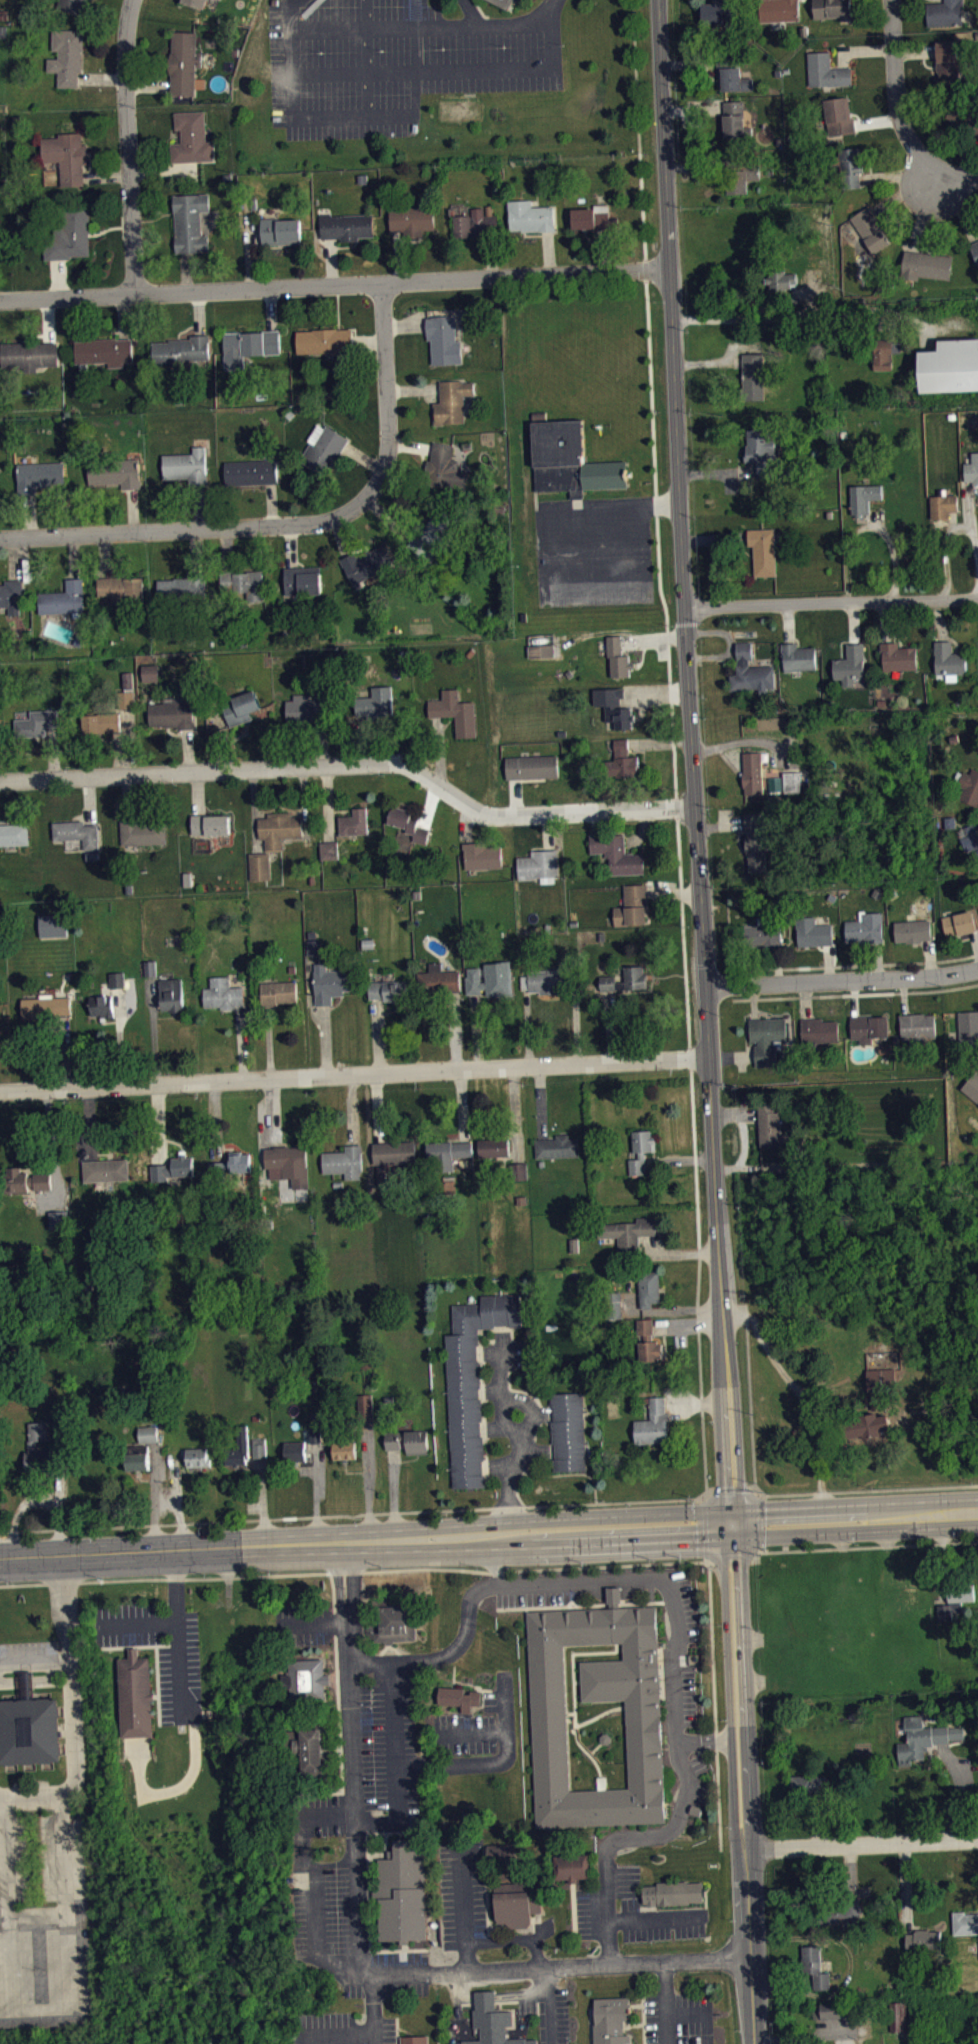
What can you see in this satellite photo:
building: (300, 0)
building: (195, 2)
building: (503, 3)
building: (72, 5)
building: (831, 8)
road: (552, 10)
building: (779, 10)
building: (724, 11)
building: (944, 13)
road: (501, 23)
building: (66, 56)
parking lot: (396, 60)
building: (949, 62)
building: (183, 63)
road: (365, 71)
road: (371, 71)
building: (825, 71)
building: (732, 75)
road: (899, 95)
road: (398, 116)
building: (839, 116)
building: (965, 117)
building: (735, 119)
road: (639, 127)
building: (191, 138)
road: (128, 145)
building: (66, 157)
building: (850, 166)
building: (740, 174)
road: (956, 181)
building: (530, 216)
building: (593, 217)
building: (412, 220)
building: (189, 222)
building: (476, 223)
building: (346, 226)
building: (870, 229)
building: (280, 231)
building: (68, 234)
building: (974, 249)
building: (926, 264)
building: (780, 279)
road: (334, 284)
building: (443, 339)
building: (324, 340)
building: (248, 345)
building: (181, 349)
building: (105, 351)
building: (29, 355)
building: (886, 360)
building: (950, 367)
building: (753, 375)
road: (385, 390)
building: (451, 401)
building: (323, 447)
building: (760, 450)
building: (569, 459)
road: (655, 462)
building: (186, 466)
building: (444, 468)
building: (972, 468)
building: (115, 472)
building: (250, 472)
building: (39, 476)
building: (0, 489)
building: (863, 497)
road: (660, 503)
building: (943, 505)
road: (972, 518)
road: (189, 529)
building: (432, 531)
road: (593, 547)
parking lot: (594, 550)
building: (762, 550)
road: (946, 555)
building: (364, 563)
road: (646, 579)
building: (303, 580)
building: (245, 583)
building: (182, 587)
building: (122, 589)
building: (11, 595)
building: (63, 599)
road: (831, 600)
building: (798, 656)
building: (898, 656)
building: (617, 657)
building: (949, 660)
building: (850, 664)
building: (750, 670)
building: (150, 672)
building: (126, 692)
building: (376, 703)
building: (614, 706)
building: (240, 708)
building: (306, 709)
building: (455, 711)
building: (172, 713)
building: (36, 722)
building: (100, 723)
building: (0, 729)
road: (672, 729)
building: (622, 760)
road: (354, 762)
road: (692, 762)
building: (532, 765)
building: (753, 771)
building: (792, 781)
building: (774, 783)
building: (968, 785)
building: (354, 822)
building: (408, 822)
building: (209, 823)
building: (76, 832)
building: (141, 832)
building: (13, 834)
building: (971, 837)
building: (272, 840)
building: (328, 849)
building: (756, 852)
building: (616, 853)
building: (481, 855)
building: (538, 865)
building: (632, 905)
building: (960, 923)
building: (52, 924)
building: (865, 927)
building: (912, 929)
building: (813, 931)
road: (681, 932)
building: (763, 933)
road: (854, 965)
building: (149, 968)
building: (117, 979)
building: (437, 979)
building: (625, 979)
building: (545, 980)
road: (841, 980)
building: (492, 981)
building: (332, 984)
road: (731, 984)
building: (609, 989)
building: (388, 990)
building: (277, 992)
building: (222, 993)
building: (171, 994)
road: (855, 994)
building: (101, 1005)
building: (45, 1007)
building: (968, 1025)
building: (869, 1027)
building: (917, 1027)
building: (820, 1031)
building: (767, 1039)
road: (688, 1058)
road: (353, 1074)
building: (971, 1086)
building: (976, 1106)
building: (770, 1126)
building: (556, 1146)
building: (493, 1147)
building: (640, 1150)
building: (394, 1152)
building: (446, 1153)
building: (344, 1161)
building: (232, 1163)
building: (182, 1164)
building: (288, 1164)
building: (105, 1170)
building: (517, 1171)
building: (232, 1173)
building: (520, 1178)
building: (25, 1179)
building: (59, 1219)
building: (628, 1232)
road: (698, 1249)
building: (648, 1287)
building: (648, 1341)
building: (472, 1378)
building: (882, 1379)
road: (750, 1396)
building: (365, 1405)
building: (314, 1416)
building: (653, 1423)
road: (508, 1425)
road: (529, 1425)
building: (869, 1425)
building: (568, 1431)
building: (148, 1433)
building: (314, 1433)
building: (405, 1438)
building: (150, 1441)
building: (317, 1442)
building: (238, 1447)
building: (259, 1447)
building: (344, 1449)
building: (38, 1451)
building: (294, 1451)
building: (138, 1457)
building: (197, 1457)
road: (862, 1490)
road: (730, 1491)
road: (754, 1491)
road: (709, 1493)
road: (384, 1513)
road: (854, 1518)
road: (758, 1521)
traffic signals: (730, 1524)
road: (703, 1529)
road: (365, 1542)
road: (863, 1546)
road: (760, 1549)
road: (731, 1555)
road: (356, 1571)
road: (664, 1579)
parking lot: (539, 1589)
building: (956, 1598)
road: (64, 1609)
building: (392, 1619)
road: (136, 1623)
parking lot: (304, 1624)
road: (178, 1636)
parking lot: (682, 1648)
parking lot: (160, 1651)
road: (439, 1655)
road: (573, 1663)
road: (34, 1664)
building: (310, 1681)
road: (578, 1681)
building: (135, 1695)
building: (459, 1697)
road: (507, 1705)
road: (713, 1705)
road: (570, 1713)
building: (30, 1726)
road: (466, 1734)
road: (576, 1734)
road: (74, 1735)
building: (605, 1738)
building: (923, 1738)
parking lot: (408, 1742)
road: (595, 1747)
building: (309, 1750)
building: (550, 1750)
road: (394, 1761)
road: (468, 1766)
road: (745, 1783)
building: (809, 1786)
road: (0, 1793)
road: (30, 1795)
building: (694, 1809)
road: (660, 1836)
road: (864, 1844)
building: (503, 1853)
building: (571, 1866)
parking lot: (319, 1882)
building: (401, 1888)
parking lot: (462, 1892)
building: (672, 1892)
building: (517, 1903)
road: (464, 1905)
building: (831, 1908)
road: (34, 1915)
parking lot: (46, 1917)
parking lot: (661, 1921)
road: (657, 1922)
building: (964, 1922)
building: (922, 1938)
building: (925, 1947)
road: (360, 1949)
building: (815, 1966)
parking lot: (387, 1974)
road: (666, 2002)
road: (375, 2005)
building: (832, 2010)
road: (689, 2012)
parking lot: (679, 2018)
building: (612, 2020)
building: (493, 2022)
building: (900, 2023)
parking lot: (332, 2027)
parking lot: (384, 2030)
road: (341, 2035)
building: (415, 2039)

